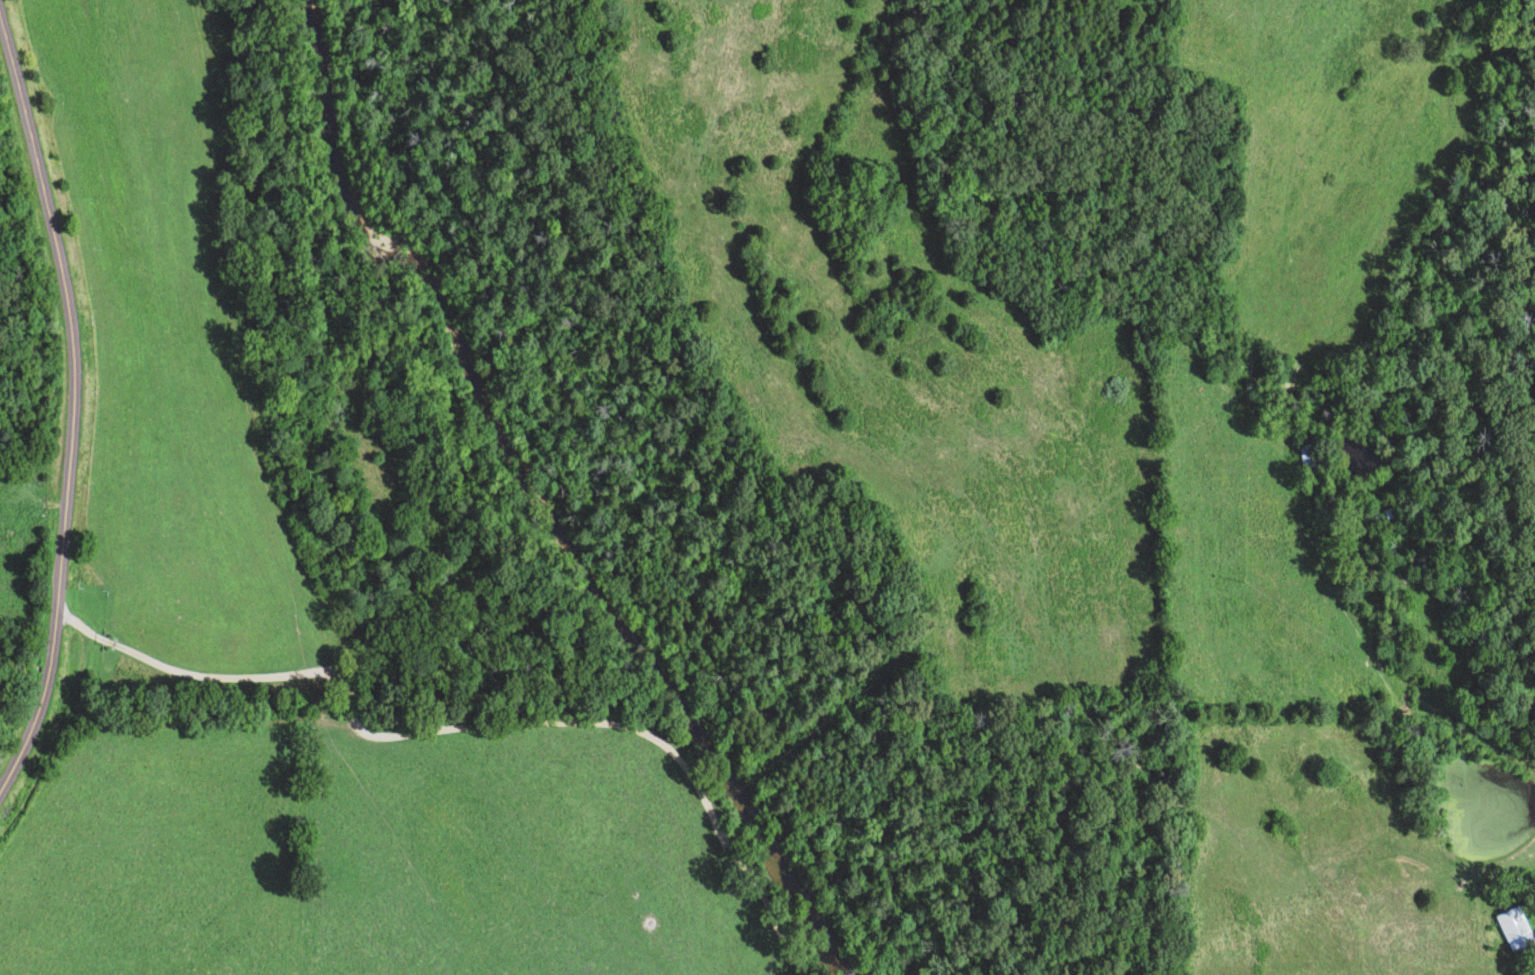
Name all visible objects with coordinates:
road: (69, 408)
building: (1305, 457)
building: (1389, 519)
road: (1473, 713)
road: (441, 738)
road: (1527, 926)
building: (1513, 931)

